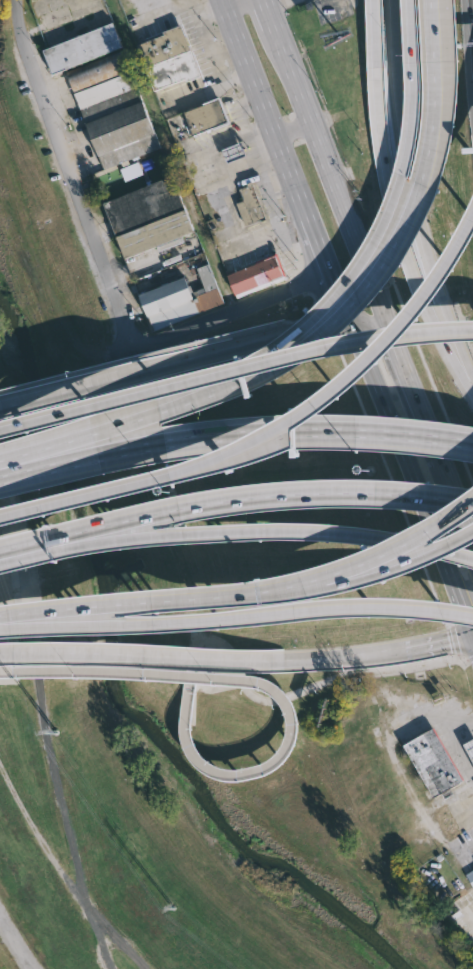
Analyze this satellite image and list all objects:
road: (232, 4)
road: (267, 12)
building: (79, 46)
road: (26, 50)
road: (212, 51)
building: (167, 58)
building: (110, 109)
building: (208, 116)
road: (291, 130)
road: (317, 141)
building: (234, 152)
road: (281, 160)
building: (131, 171)
road: (413, 191)
road: (393, 198)
road: (390, 202)
building: (248, 207)
road: (86, 210)
building: (146, 216)
road: (381, 265)
building: (255, 274)
building: (179, 297)
road: (223, 317)
traffic signals: (348, 320)
road: (386, 320)
road: (235, 339)
road: (385, 342)
road: (234, 368)
road: (432, 382)
road: (62, 384)
road: (425, 423)
road: (276, 424)
road: (316, 430)
road: (78, 438)
road: (400, 452)
road: (80, 455)
road: (320, 489)
road: (457, 504)
road: (452, 514)
road: (84, 529)
road: (313, 529)
road: (76, 546)
road: (367, 555)
road: (392, 565)
road: (275, 585)
road: (278, 592)
road: (157, 598)
road: (270, 610)
road: (462, 610)
road: (35, 611)
road: (2, 619)
road: (36, 621)
road: (472, 634)
traffic signals: (471, 635)
road: (472, 637)
road: (437, 643)
road: (134, 654)
road: (336, 656)
road: (259, 681)
road: (293, 691)
power tower: (60, 733)
park: (143, 743)
road: (454, 743)
building: (468, 748)
road: (47, 752)
building: (430, 763)
road: (67, 871)
building: (470, 876)
power tower: (176, 909)
road: (472, 910)
road: (15, 943)

